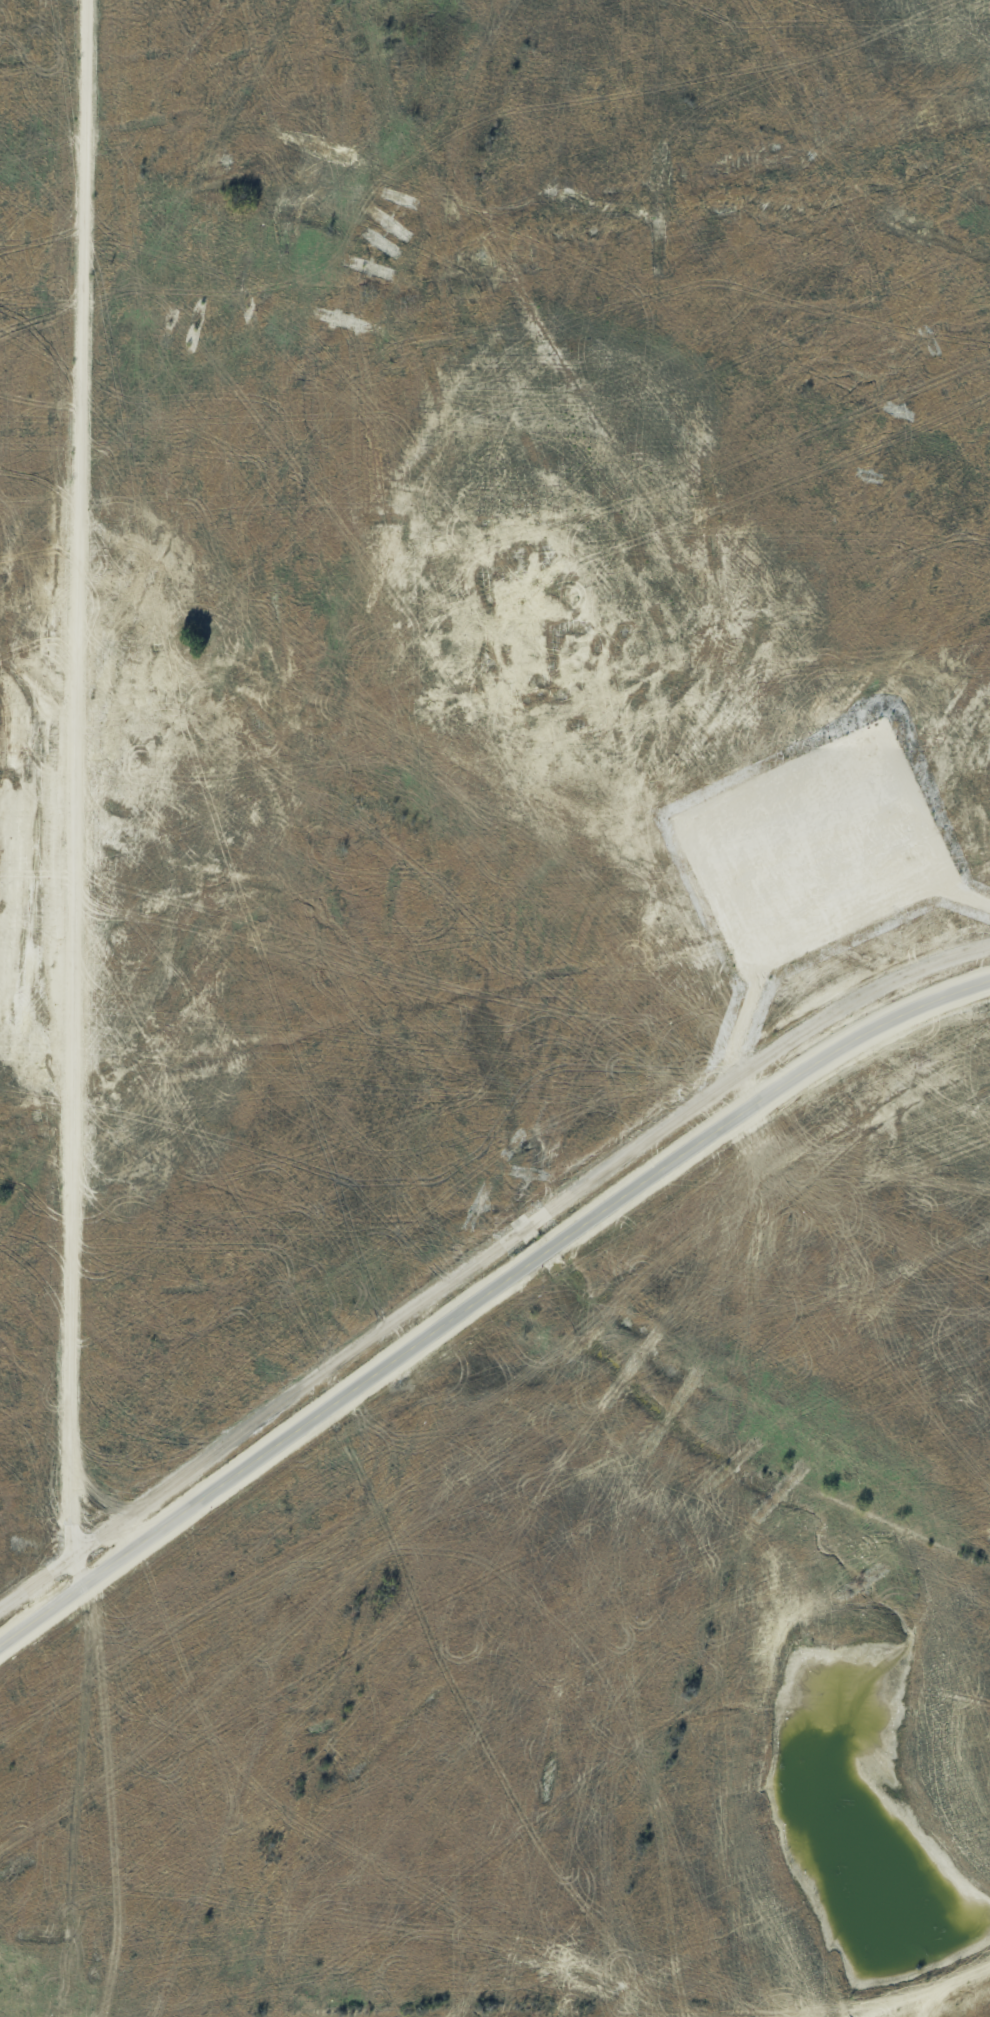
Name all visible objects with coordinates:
road: (76, 777)
road: (966, 896)
road: (738, 1031)
road: (486, 1258)
road: (485, 1301)
dam: (916, 1986)

